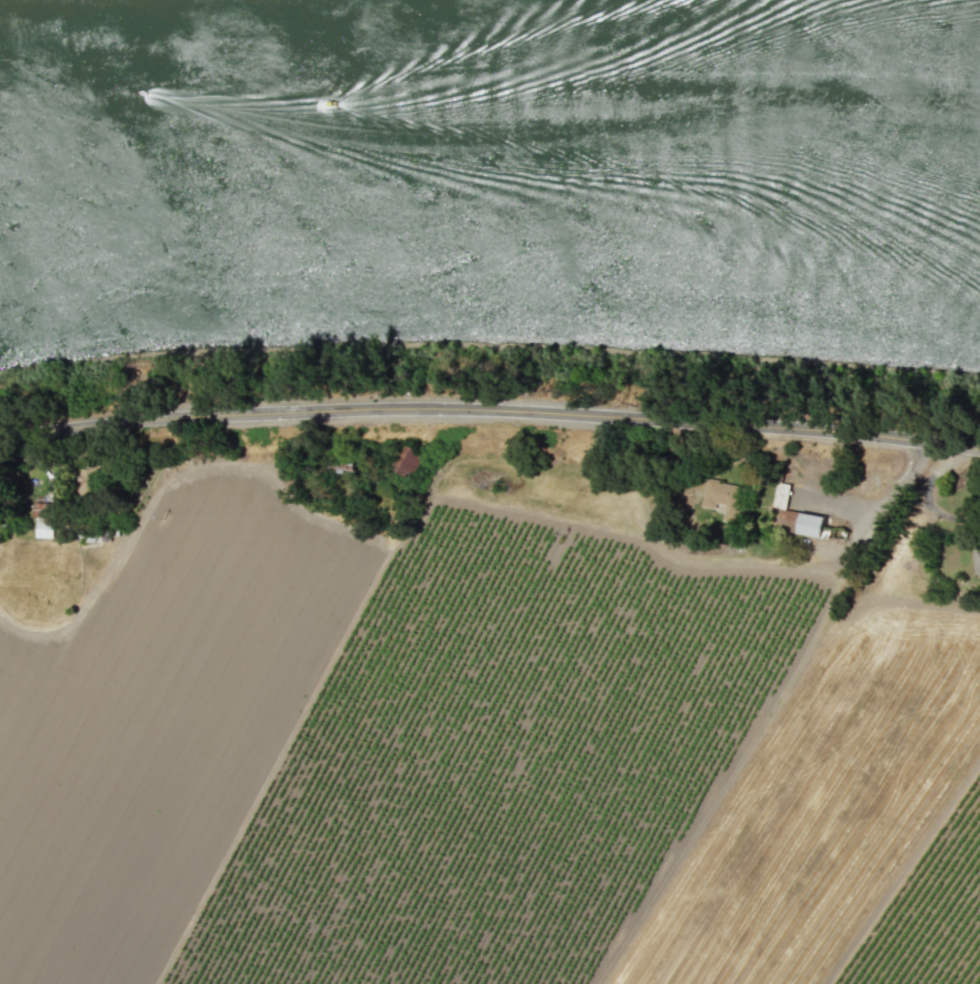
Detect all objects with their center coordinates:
river: (490, 152)
road: (490, 413)
building: (408, 461)
road: (925, 495)
building: (722, 497)
building: (810, 524)
building: (977, 561)

